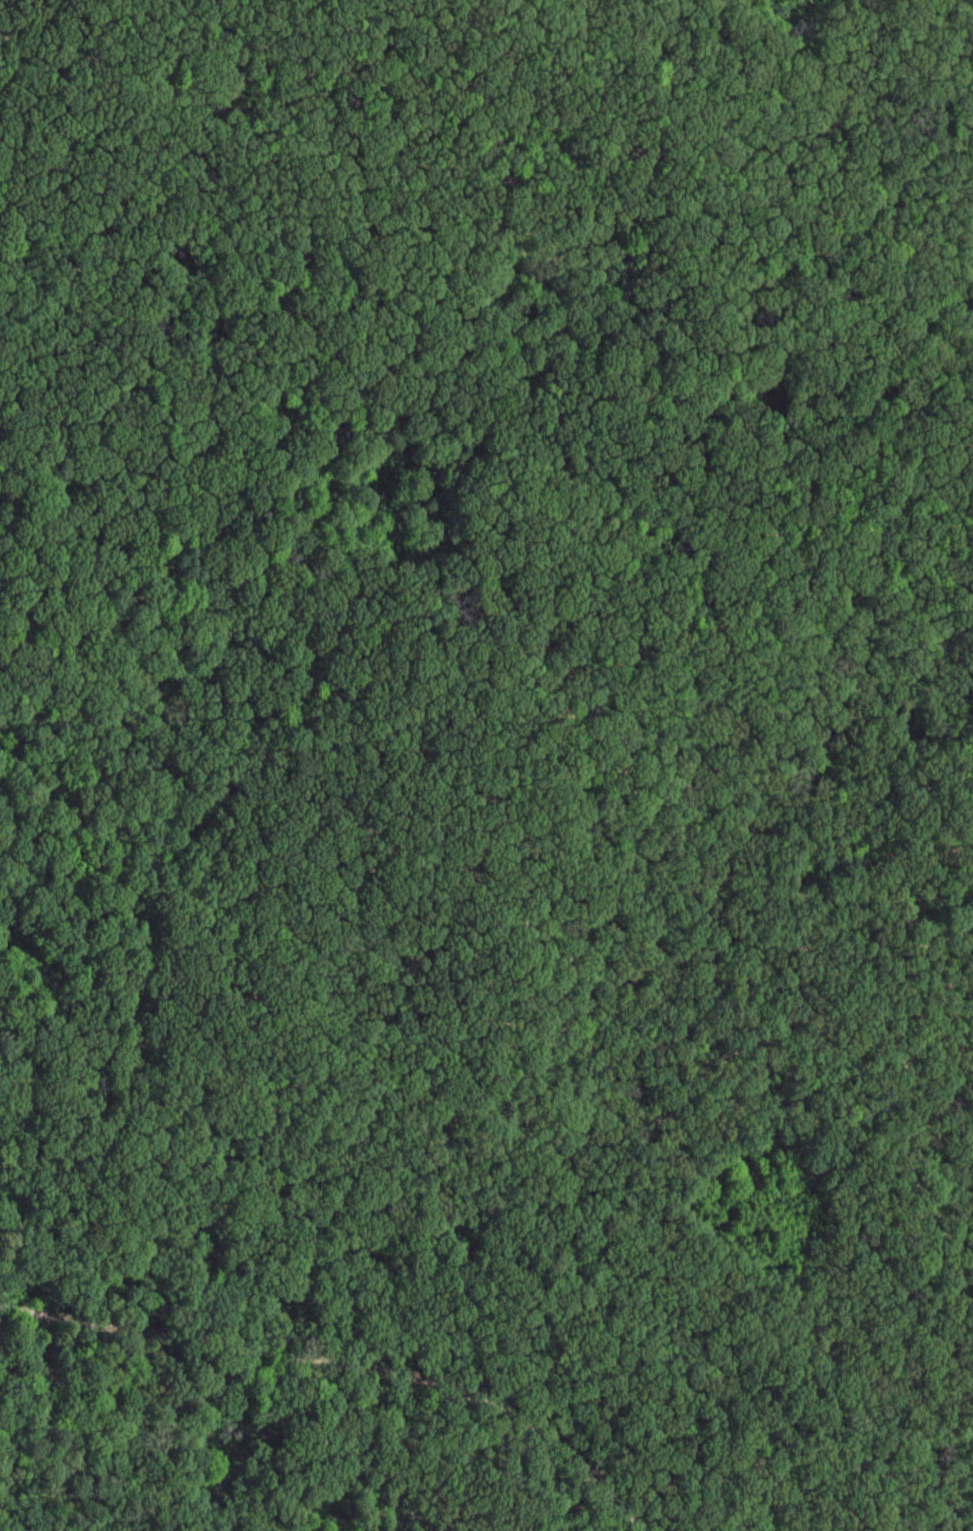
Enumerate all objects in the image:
road: (265, 1345)
road: (589, 1472)

